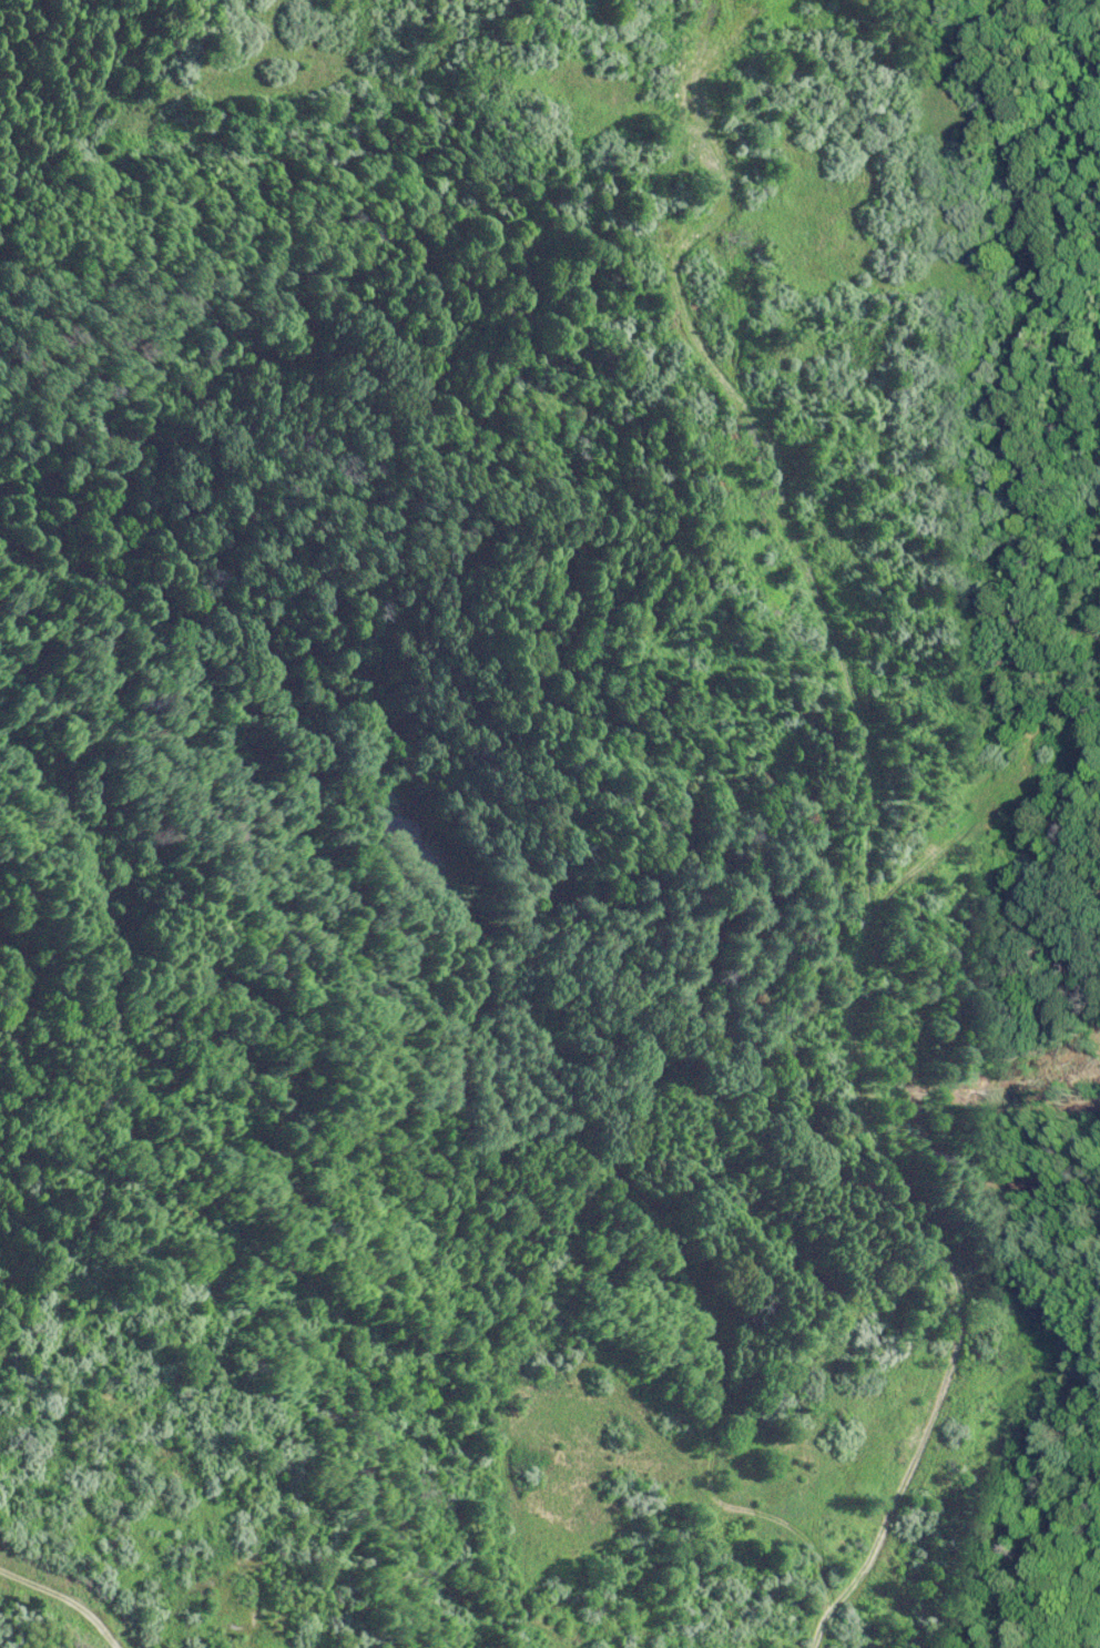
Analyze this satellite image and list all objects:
road: (247, 614)
quarry: (735, 1457)

